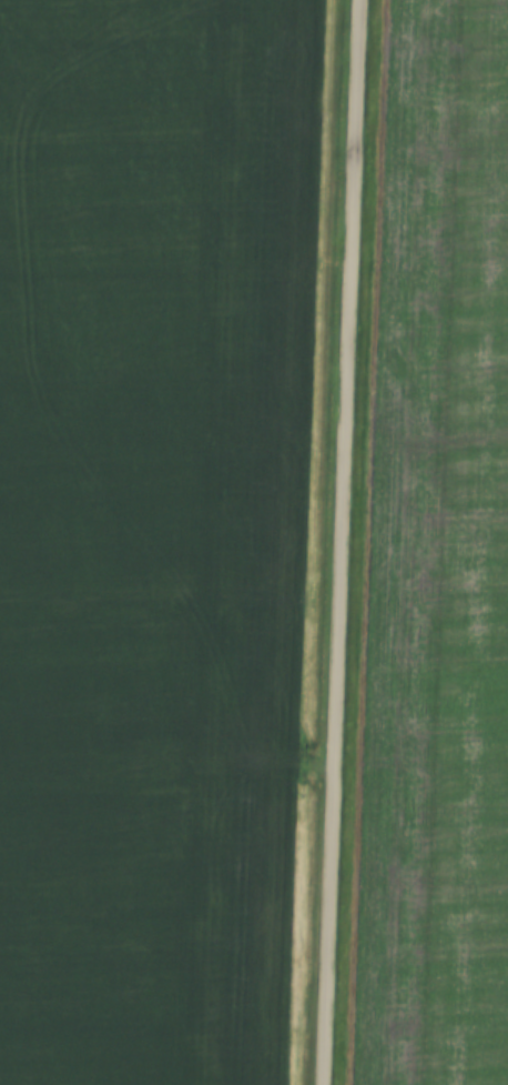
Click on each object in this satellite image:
crop: (160, 199)
road: (342, 542)
crop: (437, 564)
crop: (151, 736)

